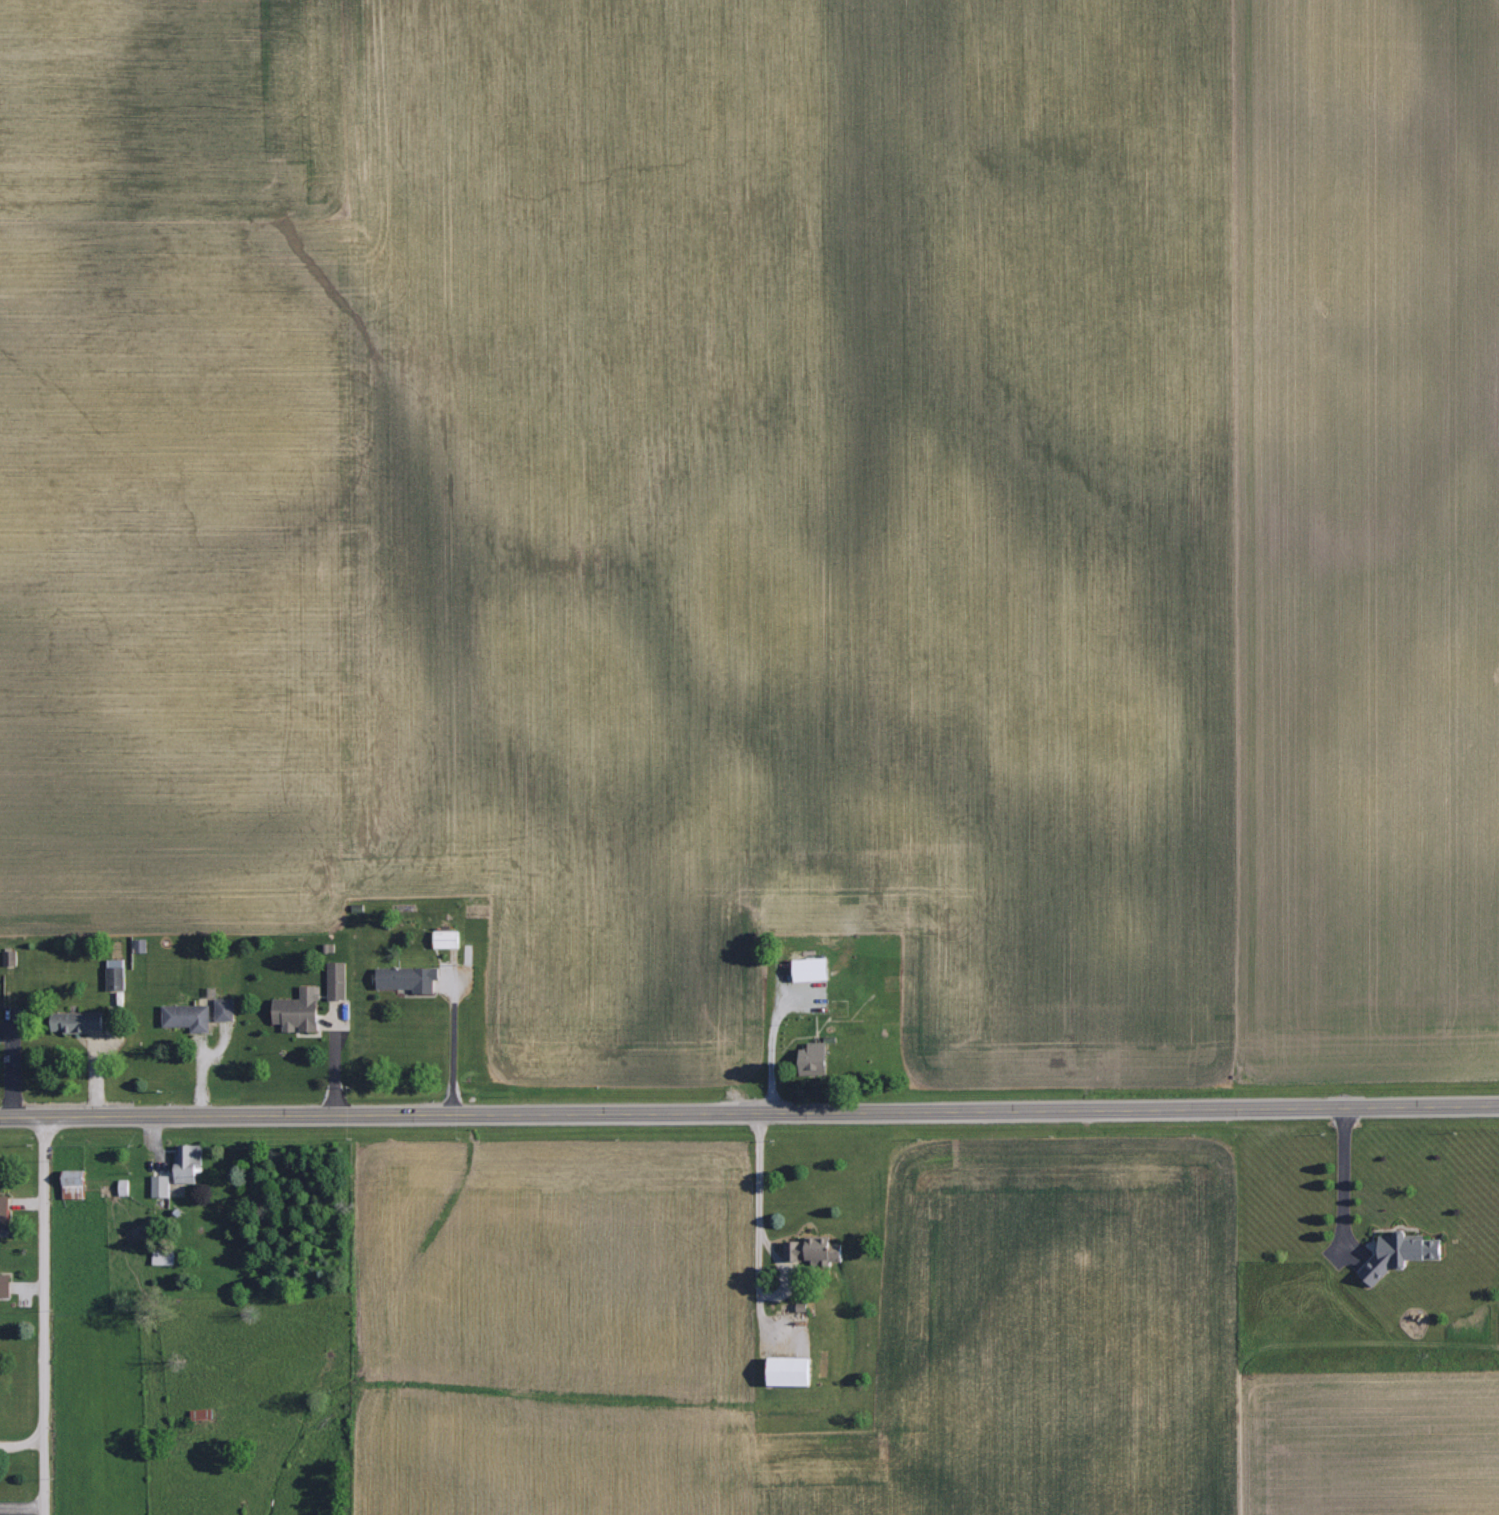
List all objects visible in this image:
building: (448, 938)
building: (141, 944)
building: (10, 957)
building: (814, 968)
building: (116, 973)
building: (410, 978)
building: (338, 980)
building: (225, 1008)
building: (300, 1010)
building: (188, 1016)
building: (79, 1021)
road: (451, 1038)
building: (818, 1058)
road: (749, 1110)
building: (189, 1162)
road: (759, 1170)
road: (1341, 1181)
building: (76, 1183)
building: (161, 1185)
building: (125, 1186)
building: (5, 1212)
building: (815, 1250)
building: (1401, 1254)
building: (164, 1256)
road: (757, 1282)
building: (5, 1285)
road: (41, 1314)
road: (762, 1320)
building: (791, 1371)
airport runway: (1396, 1447)

